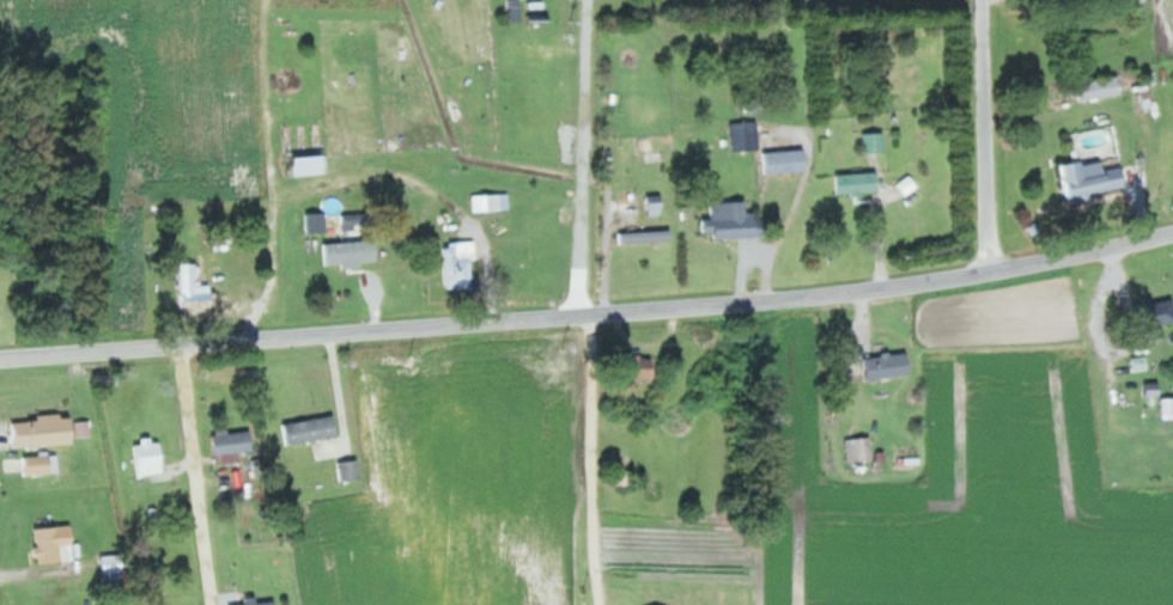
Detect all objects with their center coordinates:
building: (372, 91)
road: (985, 134)
building: (747, 136)
building: (876, 142)
building: (786, 161)
building: (310, 165)
building: (1094, 179)
building: (859, 183)
building: (739, 220)
building: (353, 226)
road: (272, 234)
building: (352, 252)
building: (461, 264)
building: (196, 289)
road: (589, 314)
building: (891, 366)
building: (644, 369)
building: (1155, 390)
building: (1167, 405)
building: (312, 430)
building: (45, 432)
building: (233, 446)
building: (862, 450)
building: (151, 458)
road: (594, 459)
building: (43, 465)
building: (352, 471)
road: (194, 475)
building: (626, 478)
building: (57, 544)
building: (115, 567)
building: (262, 603)

